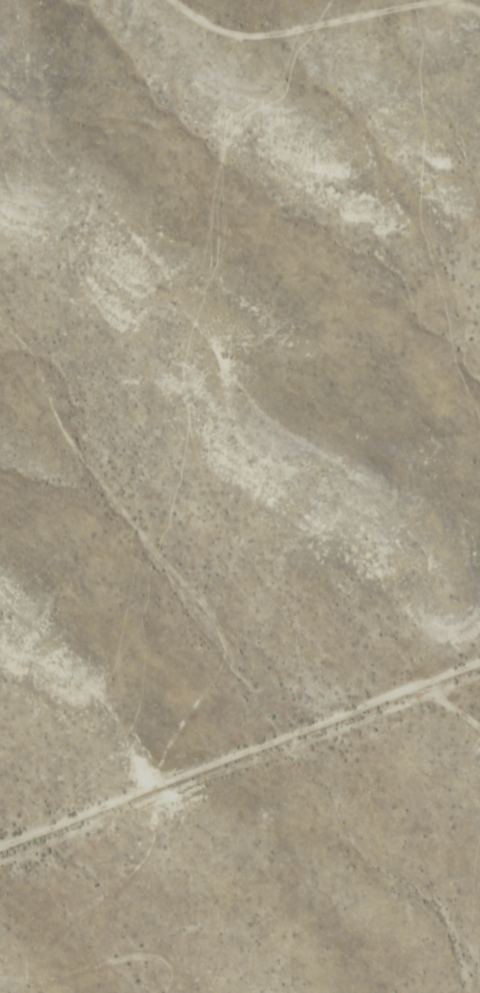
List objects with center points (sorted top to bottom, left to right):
crop: (240, 496)
road: (239, 755)

